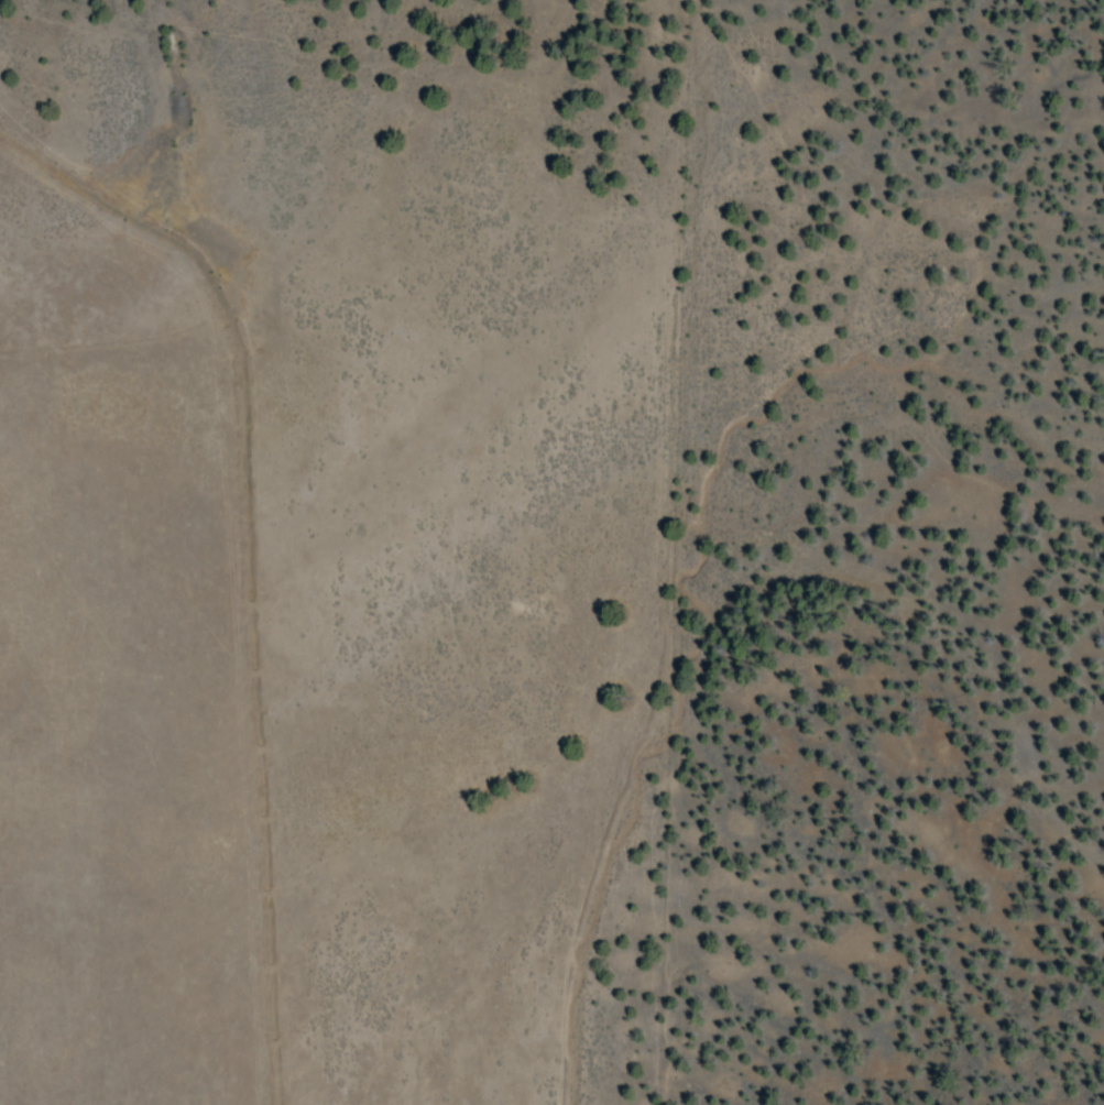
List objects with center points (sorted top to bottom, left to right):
road: (6, 111)

